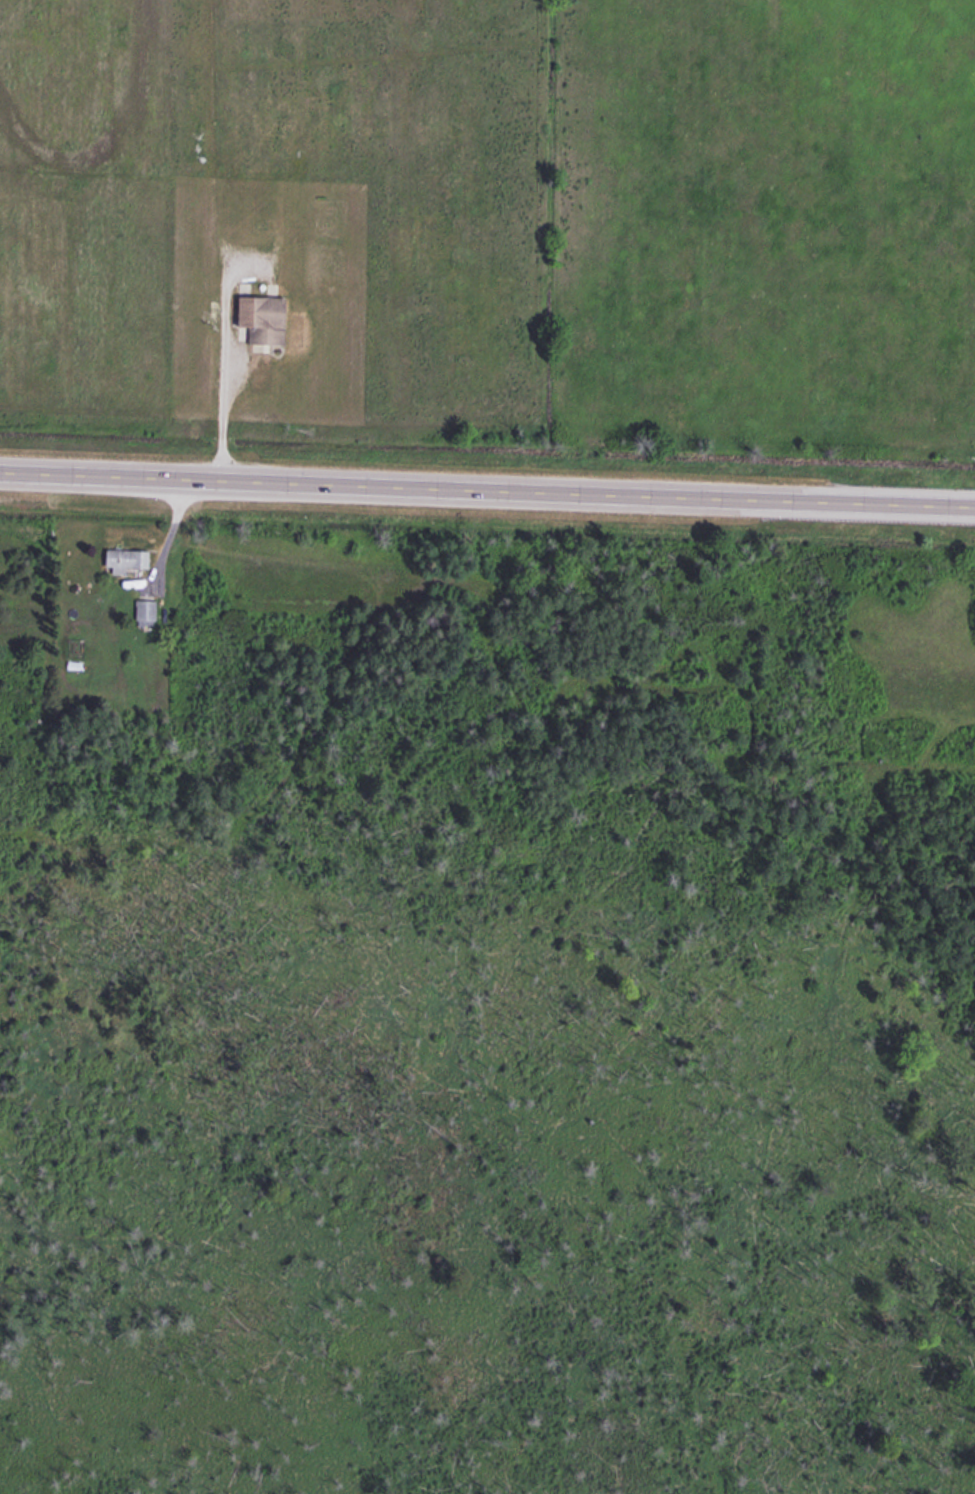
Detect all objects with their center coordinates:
building: (258, 317)
road: (223, 363)
road: (487, 484)
road: (168, 529)
building: (121, 556)
building: (142, 609)

